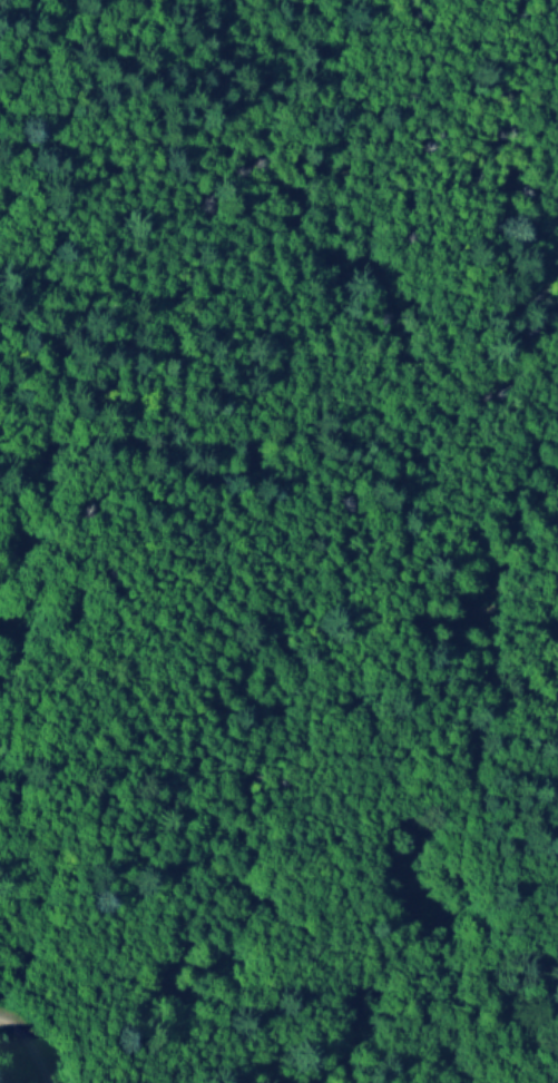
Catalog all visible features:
road: (36, 1042)
road: (35, 1059)

